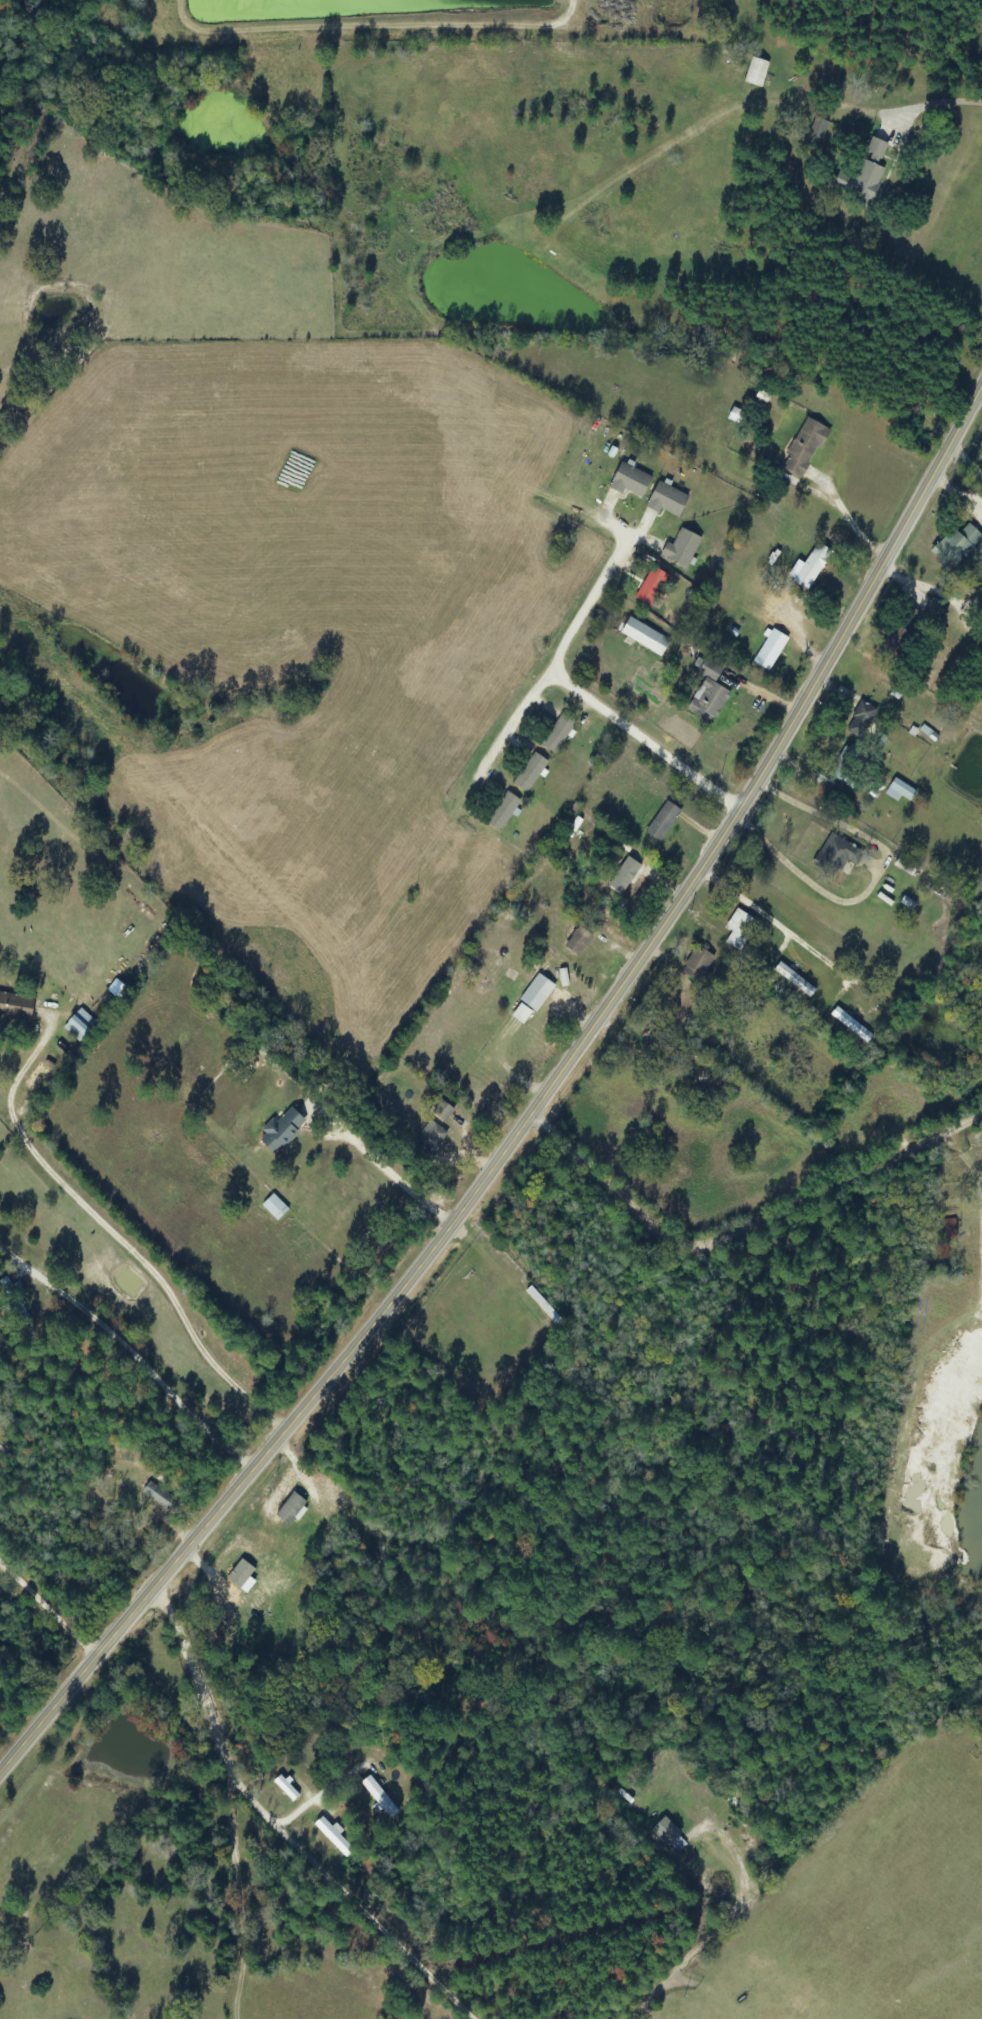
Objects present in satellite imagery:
wastewater plant: (348, 22)
building: (757, 73)
road: (871, 111)
building: (819, 129)
building: (877, 149)
building: (861, 181)
road: (981, 395)
building: (805, 448)
building: (630, 482)
building: (668, 501)
building: (956, 547)
building: (682, 550)
building: (810, 568)
building: (651, 588)
building: (645, 638)
building: (770, 651)
road: (556, 665)
building: (709, 695)
building: (862, 722)
building: (558, 735)
road: (645, 741)
building: (531, 774)
building: (900, 792)
building: (503, 813)
building: (663, 823)
building: (837, 856)
building: (907, 865)
building: (625, 878)
building: (740, 930)
building: (579, 942)
building: (697, 964)
building: (795, 981)
building: (537, 994)
building: (12, 1000)
building: (522, 1015)
building: (80, 1026)
building: (443, 1112)
road: (536, 1114)
building: (282, 1132)
building: (433, 1137)
building: (275, 1208)
road: (744, 1224)
building: (949, 1231)
building: (158, 1496)
building: (292, 1510)
building: (287, 1790)
building: (380, 1798)
road: (273, 1831)
building: (335, 1837)
building: (670, 1837)
road: (691, 1963)
road: (405, 1987)

